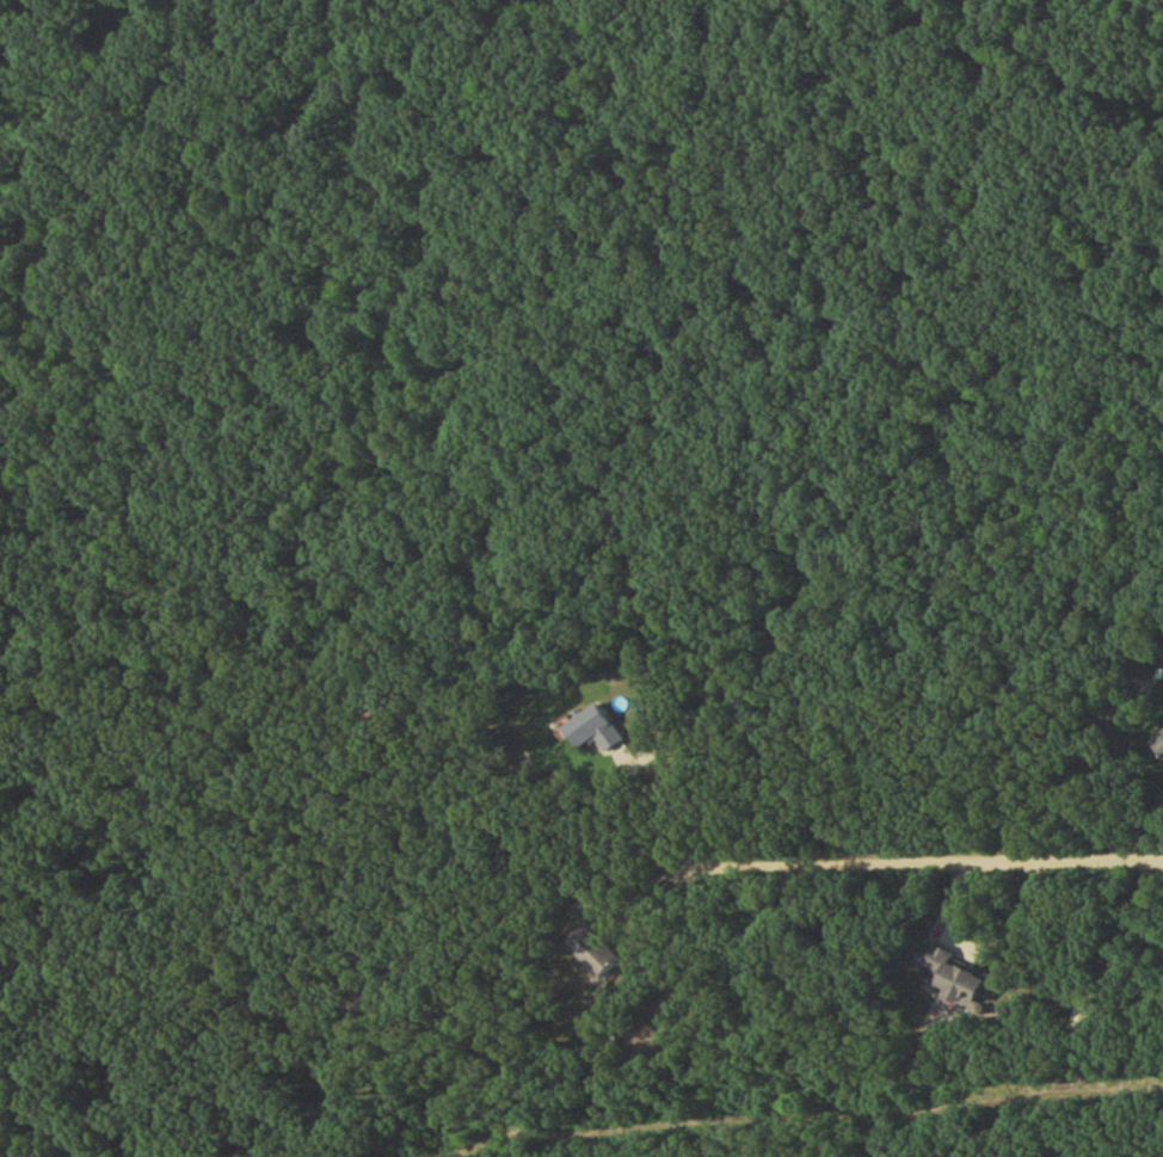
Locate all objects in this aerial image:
road: (947, 540)
building: (592, 733)
building: (1158, 749)
road: (892, 866)
road: (984, 948)
building: (593, 956)
building: (948, 979)

